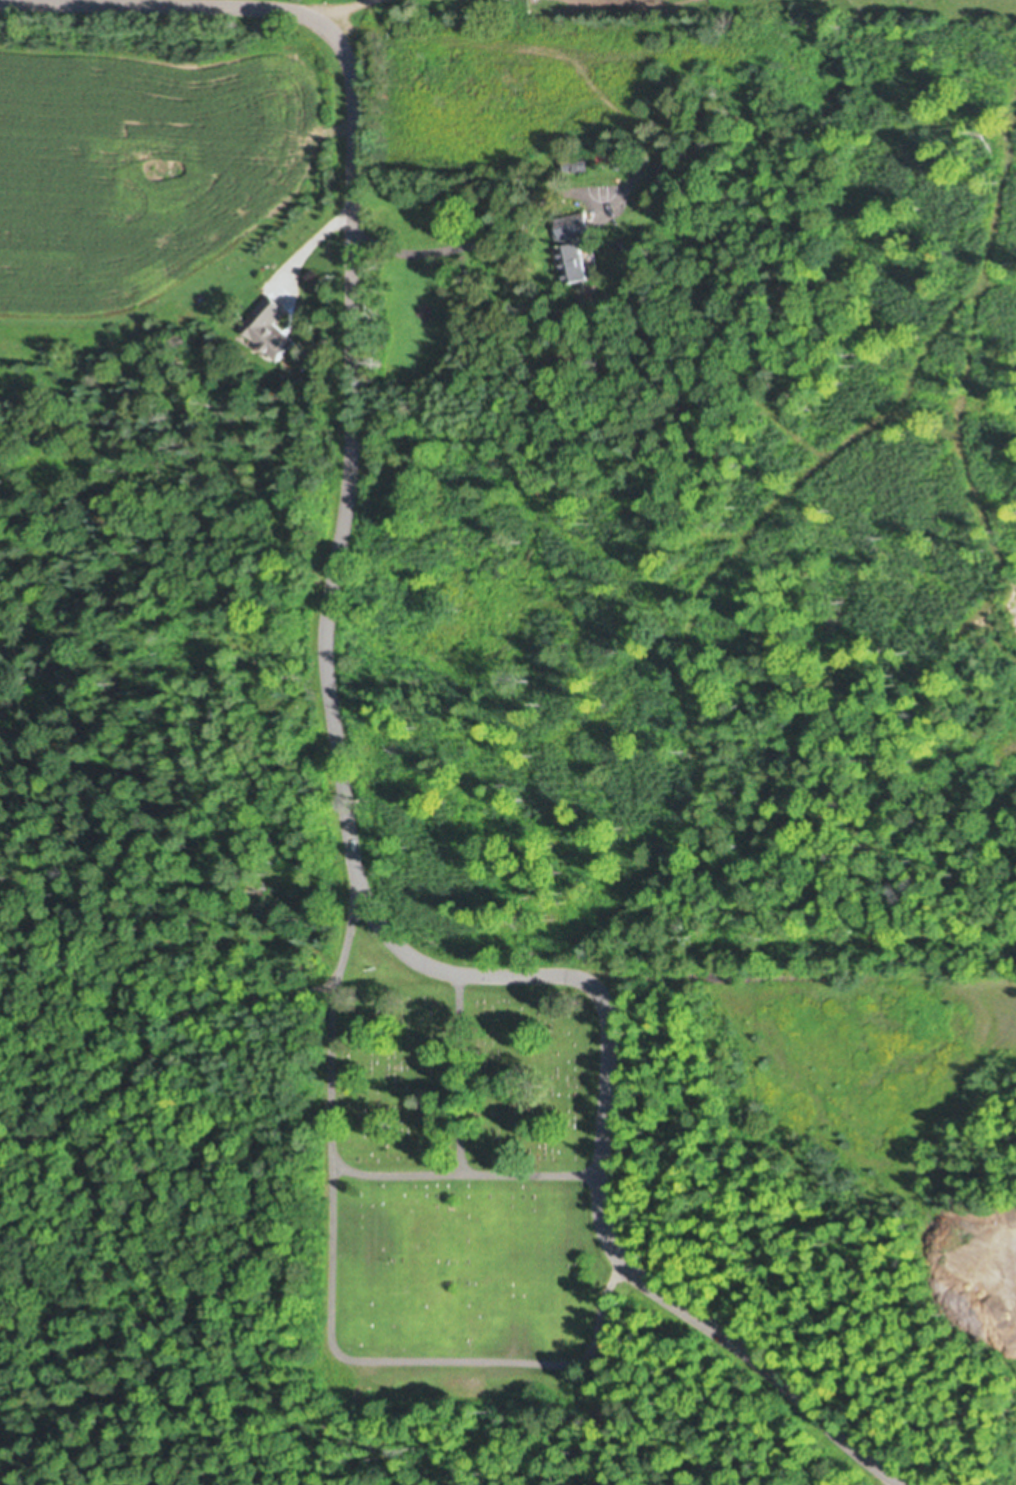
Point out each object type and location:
road: (624, 117)
building: (610, 155)
building: (577, 163)
building: (575, 244)
building: (270, 333)
road: (348, 458)
road: (603, 1081)
road: (328, 1165)
park: (459, 1192)
road: (727, 1341)
road: (420, 1360)

